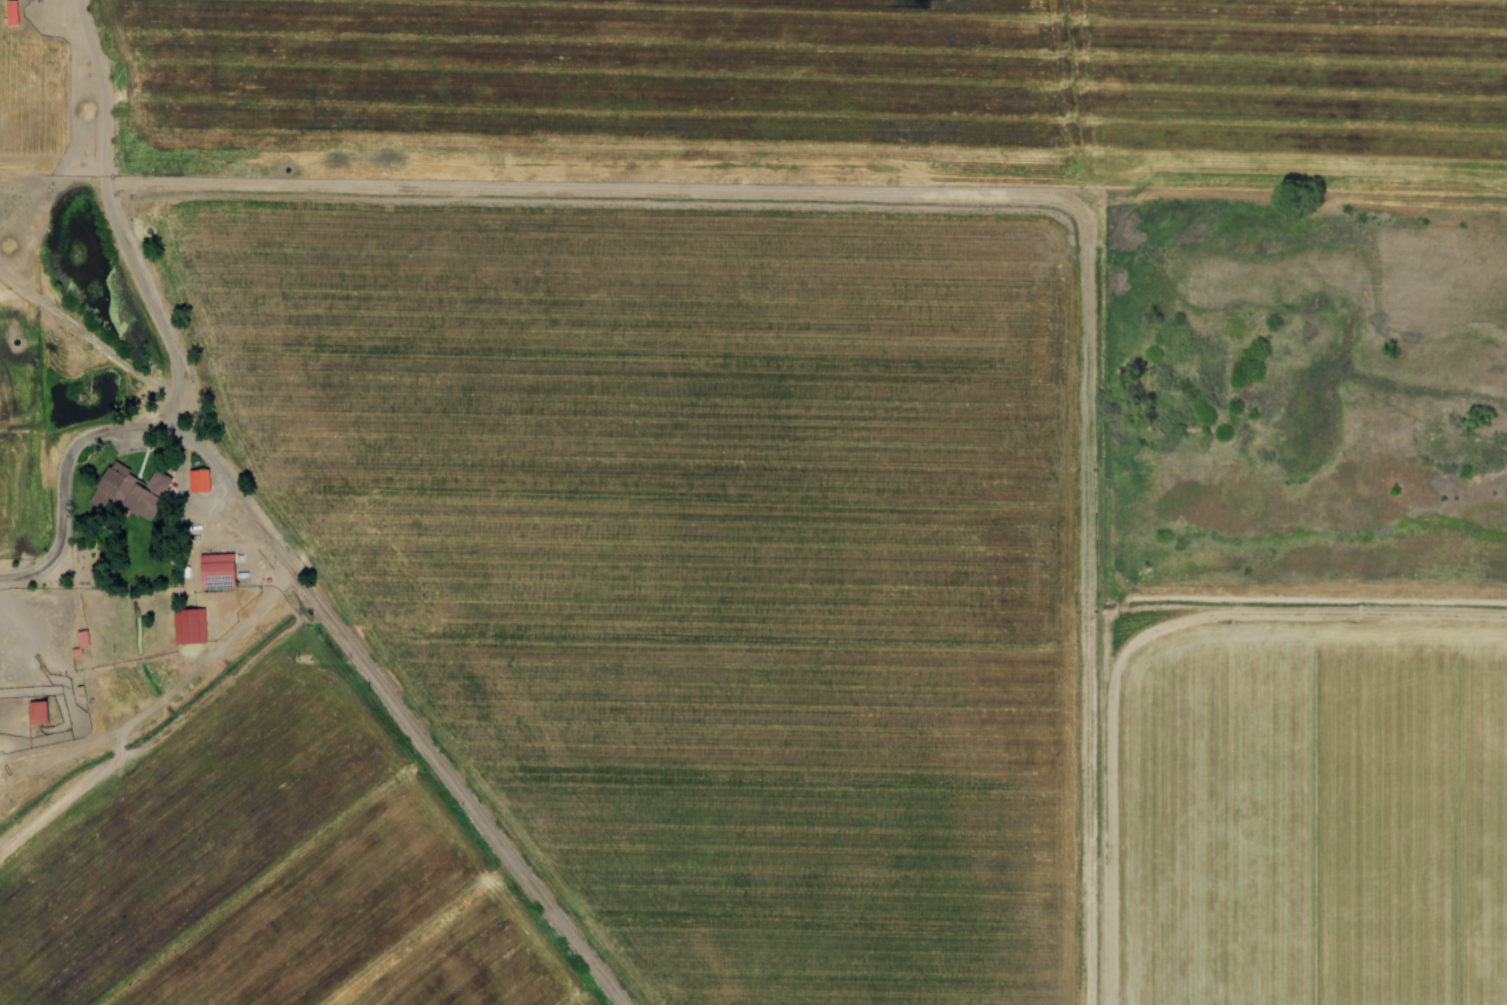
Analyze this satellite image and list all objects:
road: (162, 336)
building: (198, 480)

